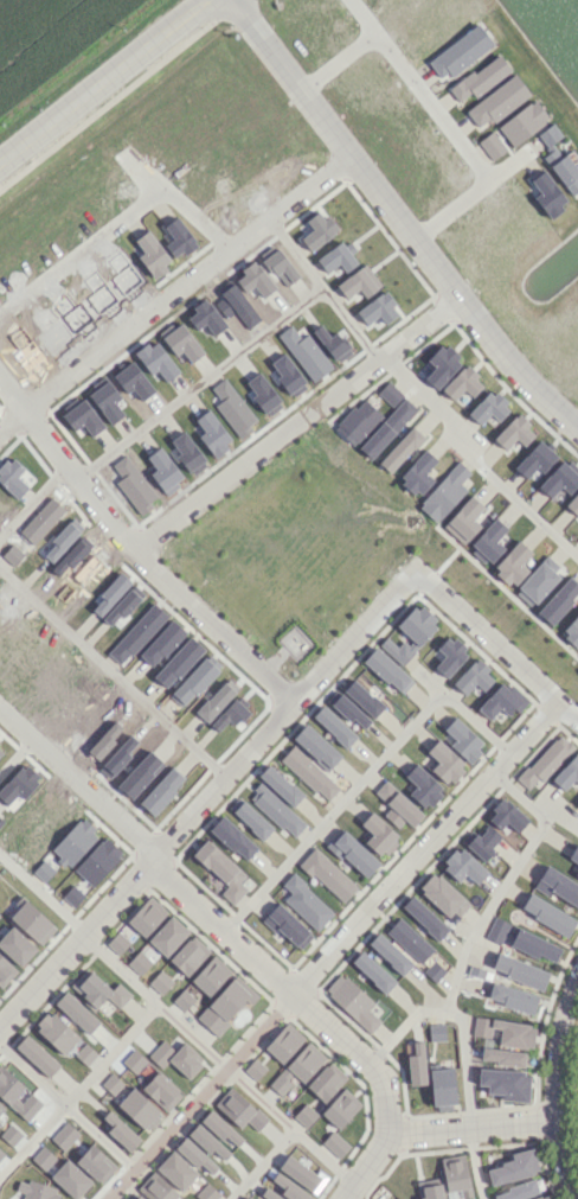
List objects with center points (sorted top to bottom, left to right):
road: (362, 15)
road: (336, 60)
building: (480, 77)
road: (103, 79)
road: (116, 95)
building: (497, 101)
road: (431, 106)
building: (522, 122)
building: (548, 134)
building: (490, 145)
road: (508, 165)
building: (563, 168)
road: (146, 176)
building: (547, 193)
road: (294, 208)
road: (450, 208)
road: (397, 218)
road: (199, 223)
building: (178, 237)
building: (150, 254)
road: (82, 256)
road: (325, 295)
building: (377, 308)
road: (425, 331)
road: (129, 333)
building: (303, 352)
building: (441, 365)
building: (287, 375)
road: (197, 383)
building: (462, 383)
building: (388, 393)
road: (12, 396)
road: (432, 402)
building: (488, 408)
building: (399, 413)
building: (355, 420)
road: (12, 426)
building: (514, 432)
building: (375, 439)
road: (44, 440)
building: (400, 449)
road: (261, 457)
building: (534, 459)
building: (417, 473)
building: (559, 478)
building: (443, 492)
road: (31, 500)
road: (520, 503)
building: (573, 504)
road: (98, 511)
building: (463, 519)
building: (488, 541)
building: (512, 563)
building: (537, 581)
building: (558, 600)
building: (131, 630)
road: (213, 630)
building: (571, 630)
building: (410, 633)
road: (488, 636)
road: (355, 637)
building: (161, 643)
building: (449, 656)
building: (179, 659)
building: (387, 670)
road: (113, 672)
building: (362, 697)
building: (501, 701)
road: (569, 712)
building: (462, 739)
building: (315, 746)
road: (14, 757)
building: (444, 761)
building: (545, 761)
building: (567, 772)
building: (309, 773)
road: (360, 780)
road: (219, 783)
building: (280, 785)
road: (75, 786)
building: (422, 786)
building: (577, 803)
building: (397, 805)
building: (276, 810)
building: (506, 816)
building: (250, 817)
building: (378, 834)
building: (232, 837)
building: (483, 841)
road: (423, 844)
building: (352, 853)
building: (573, 854)
building: (97, 860)
building: (462, 866)
building: (220, 869)
building: (577, 873)
building: (327, 874)
road: (505, 882)
building: (557, 885)
road: (43, 894)
building: (72, 895)
building: (442, 895)
building: (304, 903)
building: (547, 913)
building: (146, 916)
building: (424, 917)
building: (287, 926)
road: (221, 929)
building: (495, 929)
building: (167, 935)
building: (409, 940)
building: (117, 943)
building: (534, 945)
road: (73, 946)
building: (388, 952)
building: (188, 955)
building: (139, 962)
road: (120, 969)
building: (433, 970)
building: (519, 970)
building: (372, 971)
building: (475, 971)
building: (210, 975)
building: (160, 982)
building: (97, 990)
building: (510, 997)
building: (182, 999)
building: (352, 1001)
building: (225, 1003)
building: (76, 1012)
road: (455, 1016)
road: (141, 1018)
building: (56, 1032)
building: (436, 1032)
building: (505, 1032)
building: (283, 1042)
building: (85, 1054)
road: (358, 1054)
building: (36, 1055)
building: (501, 1057)
building: (175, 1058)
building: (134, 1061)
building: (416, 1064)
building: (297, 1066)
building: (255, 1069)
building: (326, 1080)
building: (110, 1083)
building: (505, 1083)
road: (552, 1083)
building: (442, 1089)
building: (161, 1091)
road: (204, 1096)
road: (259, 1099)
building: (340, 1108)
road: (68, 1109)
building: (137, 1109)
building: (238, 1109)
building: (304, 1115)
road: (470, 1125)
building: (219, 1127)
building: (120, 1131)
road: (288, 1133)
building: (207, 1142)
building: (334, 1143)
building: (194, 1155)
road: (476, 1162)
road: (364, 1165)
building: (513, 1167)
building: (175, 1169)
building: (301, 1173)
building: (455, 1174)
building: (155, 1187)
building: (288, 1187)
building: (429, 1188)
building: (516, 1191)
building: (206, 1192)
building: (269, 1194)
building: (134, 1195)
road: (348, 1195)
building: (541, 1197)
building: (248, 1198)

